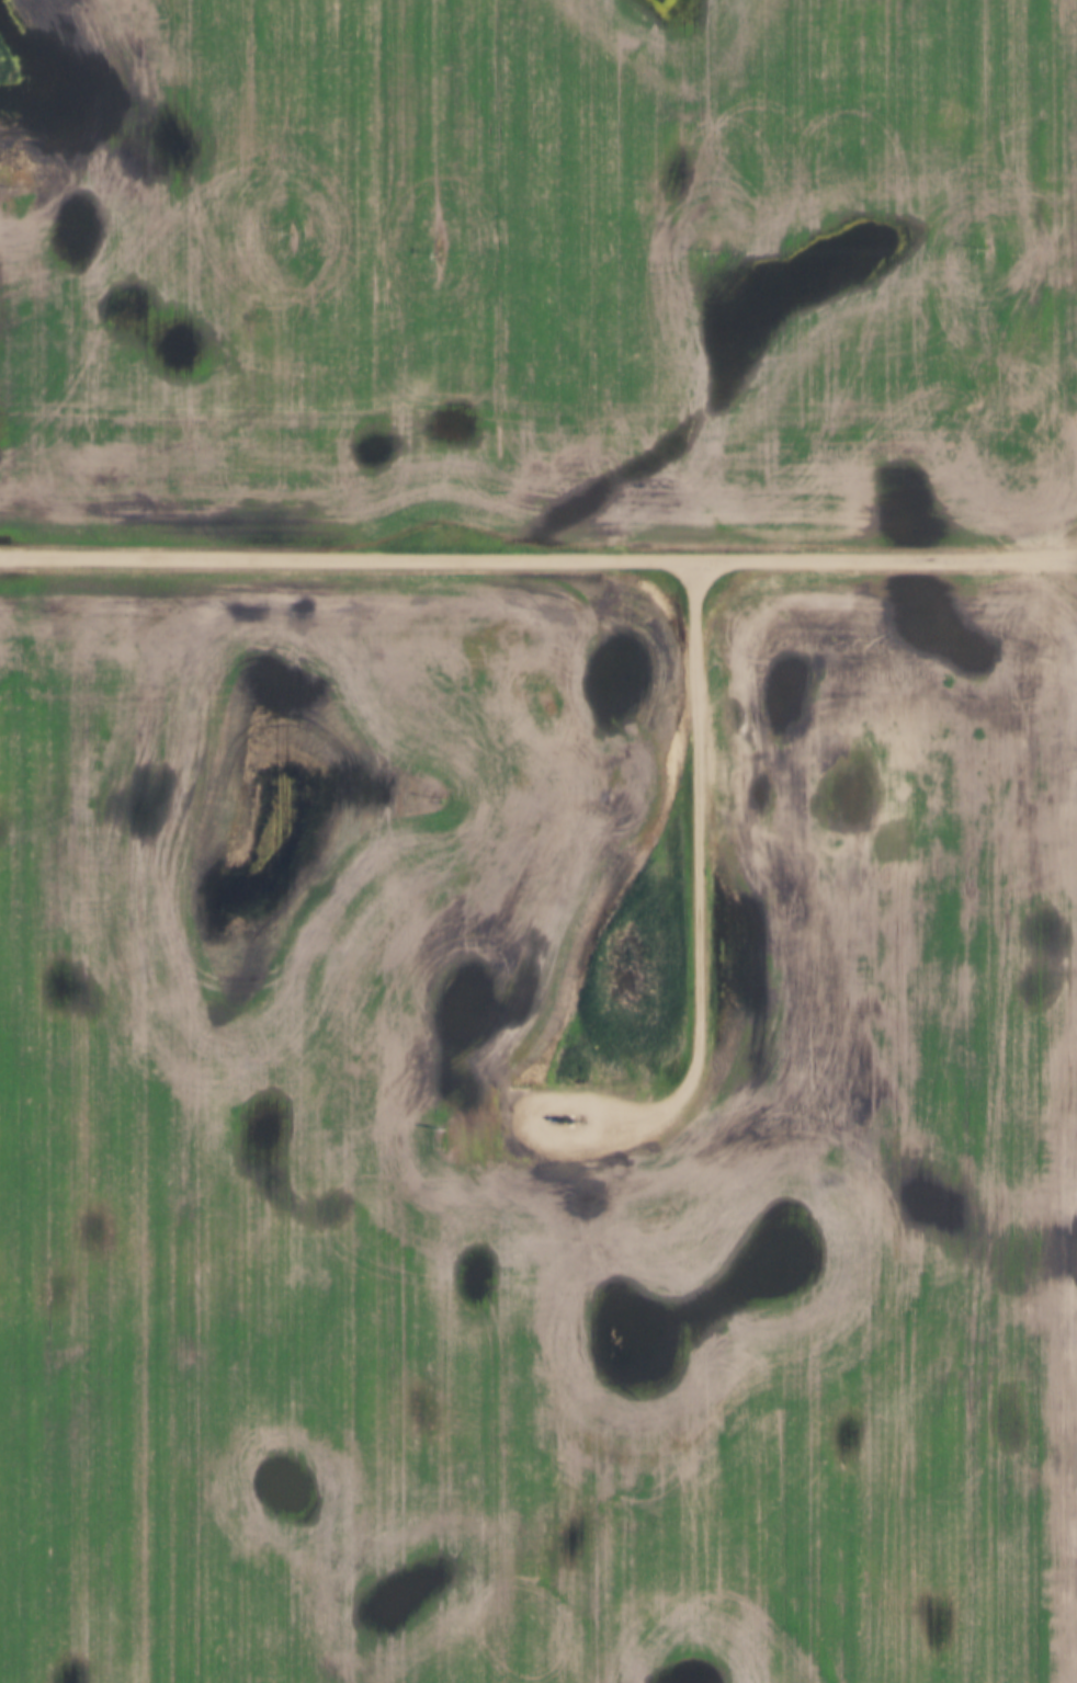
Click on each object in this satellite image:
road: (538, 554)
road: (702, 855)
building: (558, 1106)

